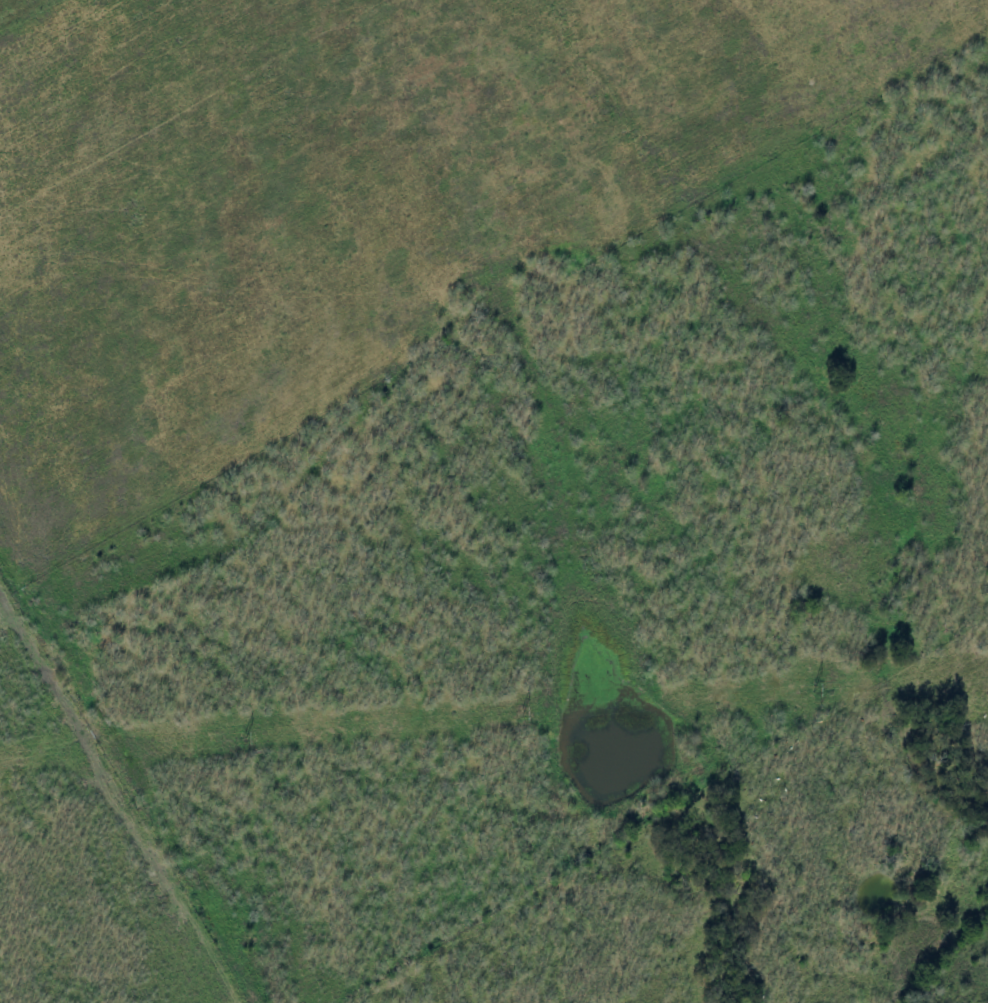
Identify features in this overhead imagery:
power tower: (814, 687)
power tower: (523, 711)
power tower: (246, 735)

